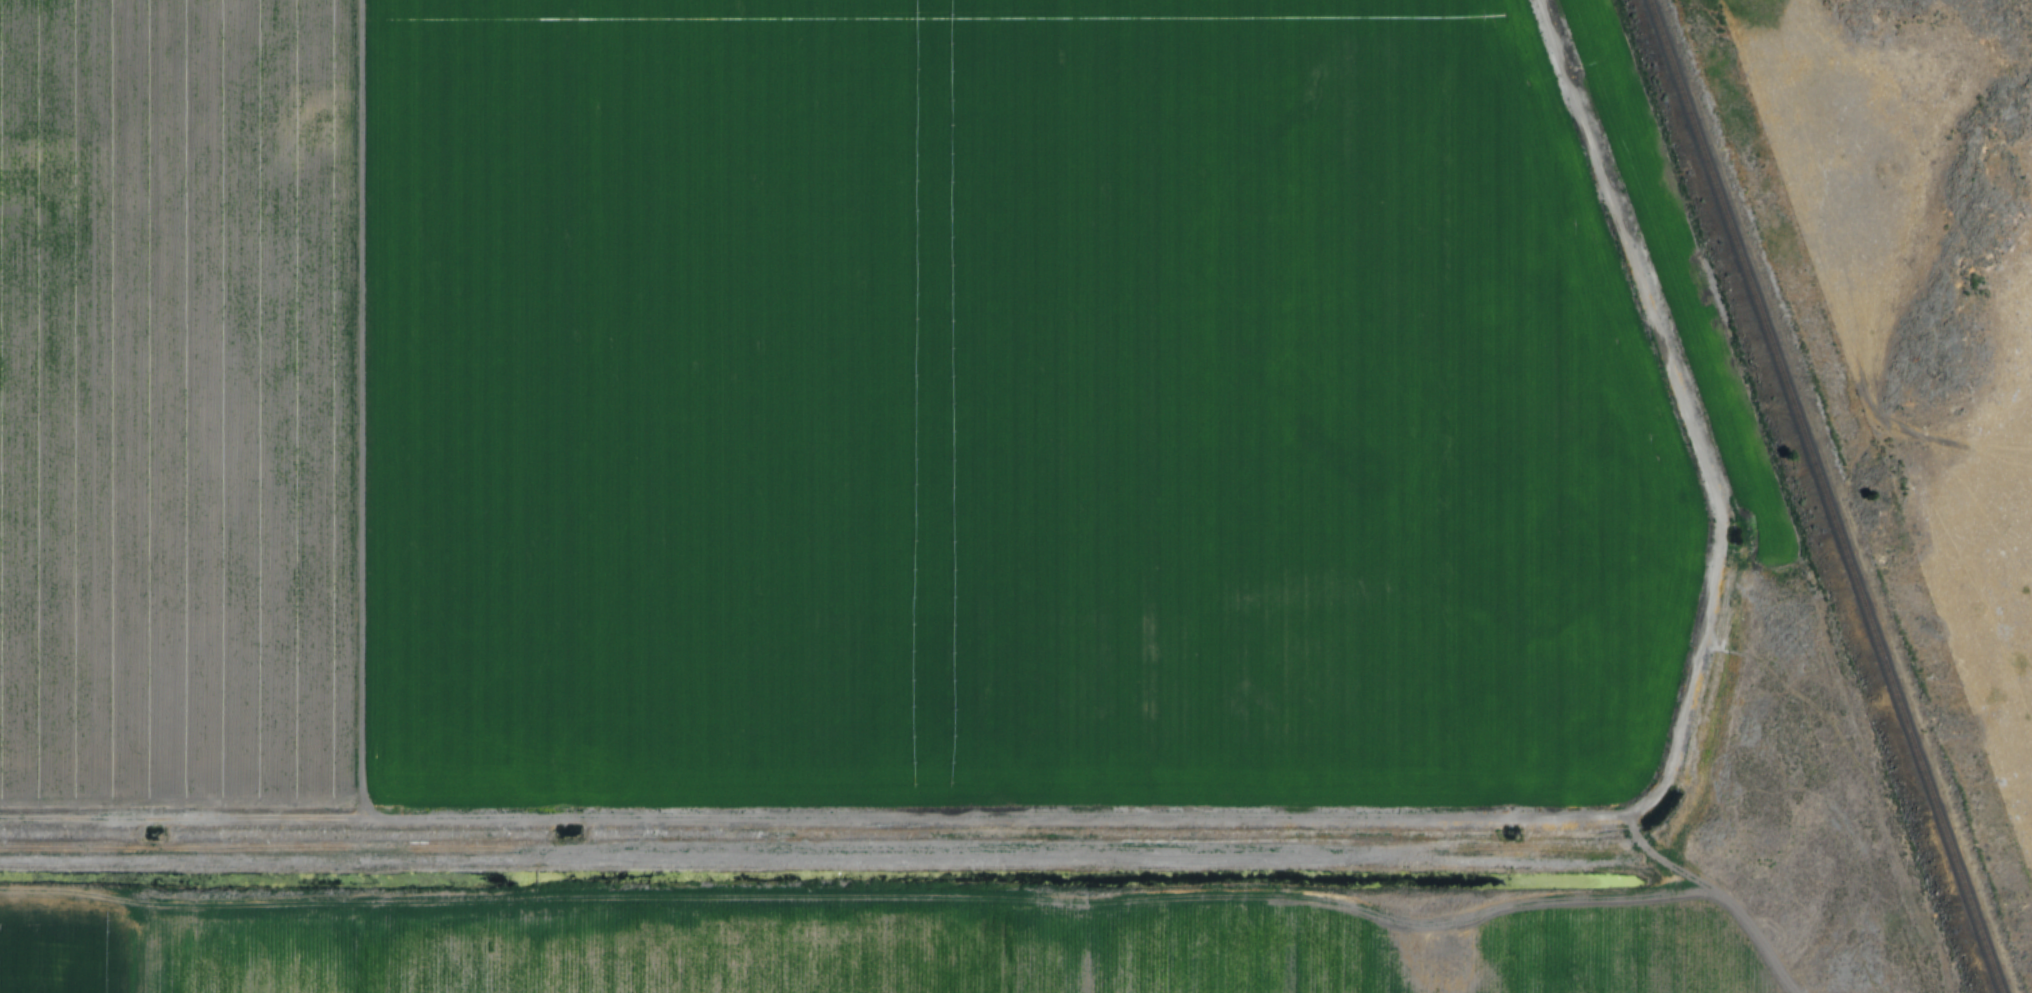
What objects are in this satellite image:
crop: (178, 403)
crop: (988, 408)
railway: (1821, 496)
road: (1727, 896)
crop: (68, 944)
crop: (947, 950)

